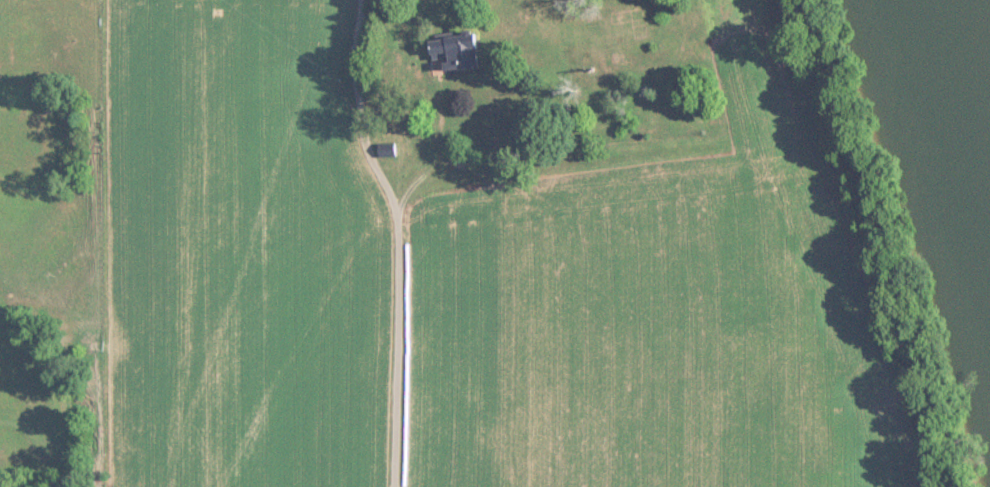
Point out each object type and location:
road: (406, 237)

